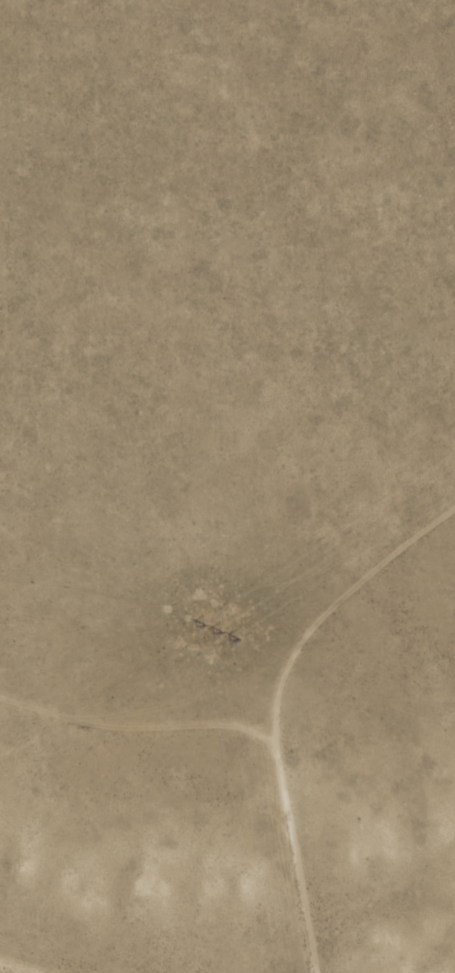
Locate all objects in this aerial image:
power tower: (222, 630)

